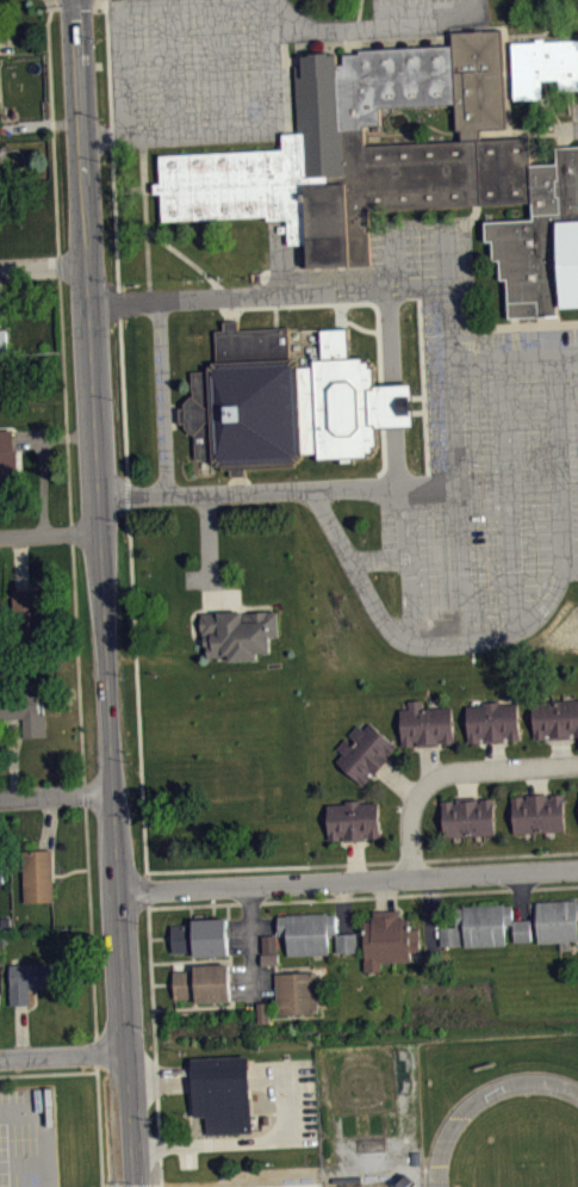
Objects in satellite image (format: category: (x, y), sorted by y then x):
road: (95, 1)
road: (50, 5)
road: (132, 6)
road: (358, 14)
road: (383, 27)
road: (546, 29)
road: (404, 38)
building: (542, 64)
road: (223, 69)
road: (173, 70)
parking lot: (195, 73)
road: (574, 129)
road: (51, 130)
road: (524, 131)
road: (242, 135)
building: (397, 166)
road: (136, 187)
building: (0, 216)
road: (144, 223)
road: (393, 254)
road: (41, 265)
road: (57, 266)
road: (197, 267)
road: (265, 295)
road: (274, 308)
street lamp: (287, 309)
street lamp: (210, 311)
street lamp: (347, 311)
road: (337, 314)
road: (377, 317)
road: (274, 321)
road: (512, 324)
road: (356, 326)
road: (386, 335)
road: (547, 335)
street lamp: (474, 347)
building: (7, 352)
road: (512, 359)
street lamp: (173, 371)
road: (161, 397)
building: (350, 400)
road: (64, 401)
building: (250, 401)
road: (390, 403)
road: (123, 432)
road: (452, 433)
building: (7, 456)
road: (393, 456)
parking lot: (479, 456)
street lamp: (176, 458)
street lamp: (481, 468)
street lamp: (294, 475)
street lamp: (217, 478)
road: (429, 483)
road: (248, 492)
road: (508, 494)
road: (70, 533)
road: (48, 534)
road: (209, 544)
road: (377, 558)
road: (571, 562)
road: (406, 565)
street lamp: (485, 570)
street lamp: (374, 575)
road: (99, 593)
building: (27, 616)
road: (514, 629)
building: (238, 632)
road: (77, 662)
building: (24, 711)
building: (555, 718)
building: (492, 721)
building: (424, 724)
building: (363, 752)
road: (450, 772)
road: (83, 793)
road: (55, 798)
building: (537, 812)
building: (468, 816)
building: (353, 820)
road: (362, 863)
building: (2, 870)
building: (37, 874)
road: (348, 882)
road: (555, 886)
road: (147, 889)
road: (340, 896)
road: (213, 910)
road: (191, 911)
road: (228, 911)
road: (89, 919)
building: (557, 921)
building: (484, 925)
building: (313, 933)
building: (200, 935)
road: (160, 936)
building: (387, 938)
road: (193, 956)
building: (269, 958)
road: (193, 959)
building: (32, 978)
building: (203, 982)
road: (162, 983)
building: (297, 991)
road: (195, 1007)
building: (262, 1010)
building: (266, 1019)
road: (153, 1032)
road: (95, 1051)
road: (63, 1055)
road: (48, 1072)
building: (220, 1092)
road: (44, 1125)
track: (450, 1127)
road: (99, 1129)
parking lot: (27, 1137)
road: (23, 1161)
road: (160, 1173)
park: (369, 1185)

